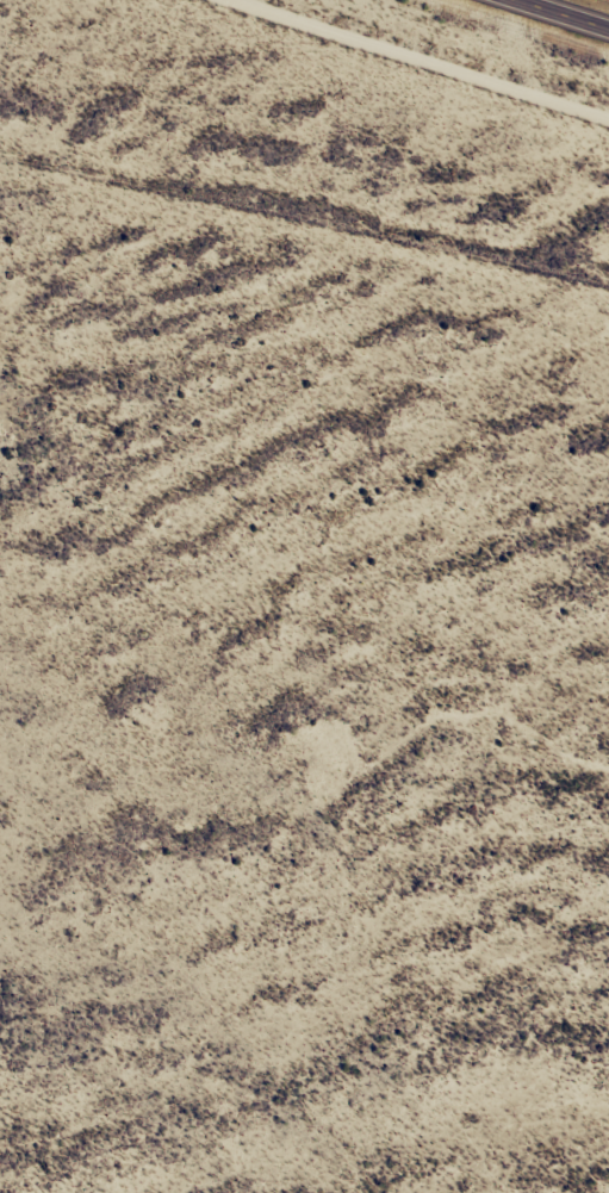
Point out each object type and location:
road: (566, 12)
road: (304, 218)

